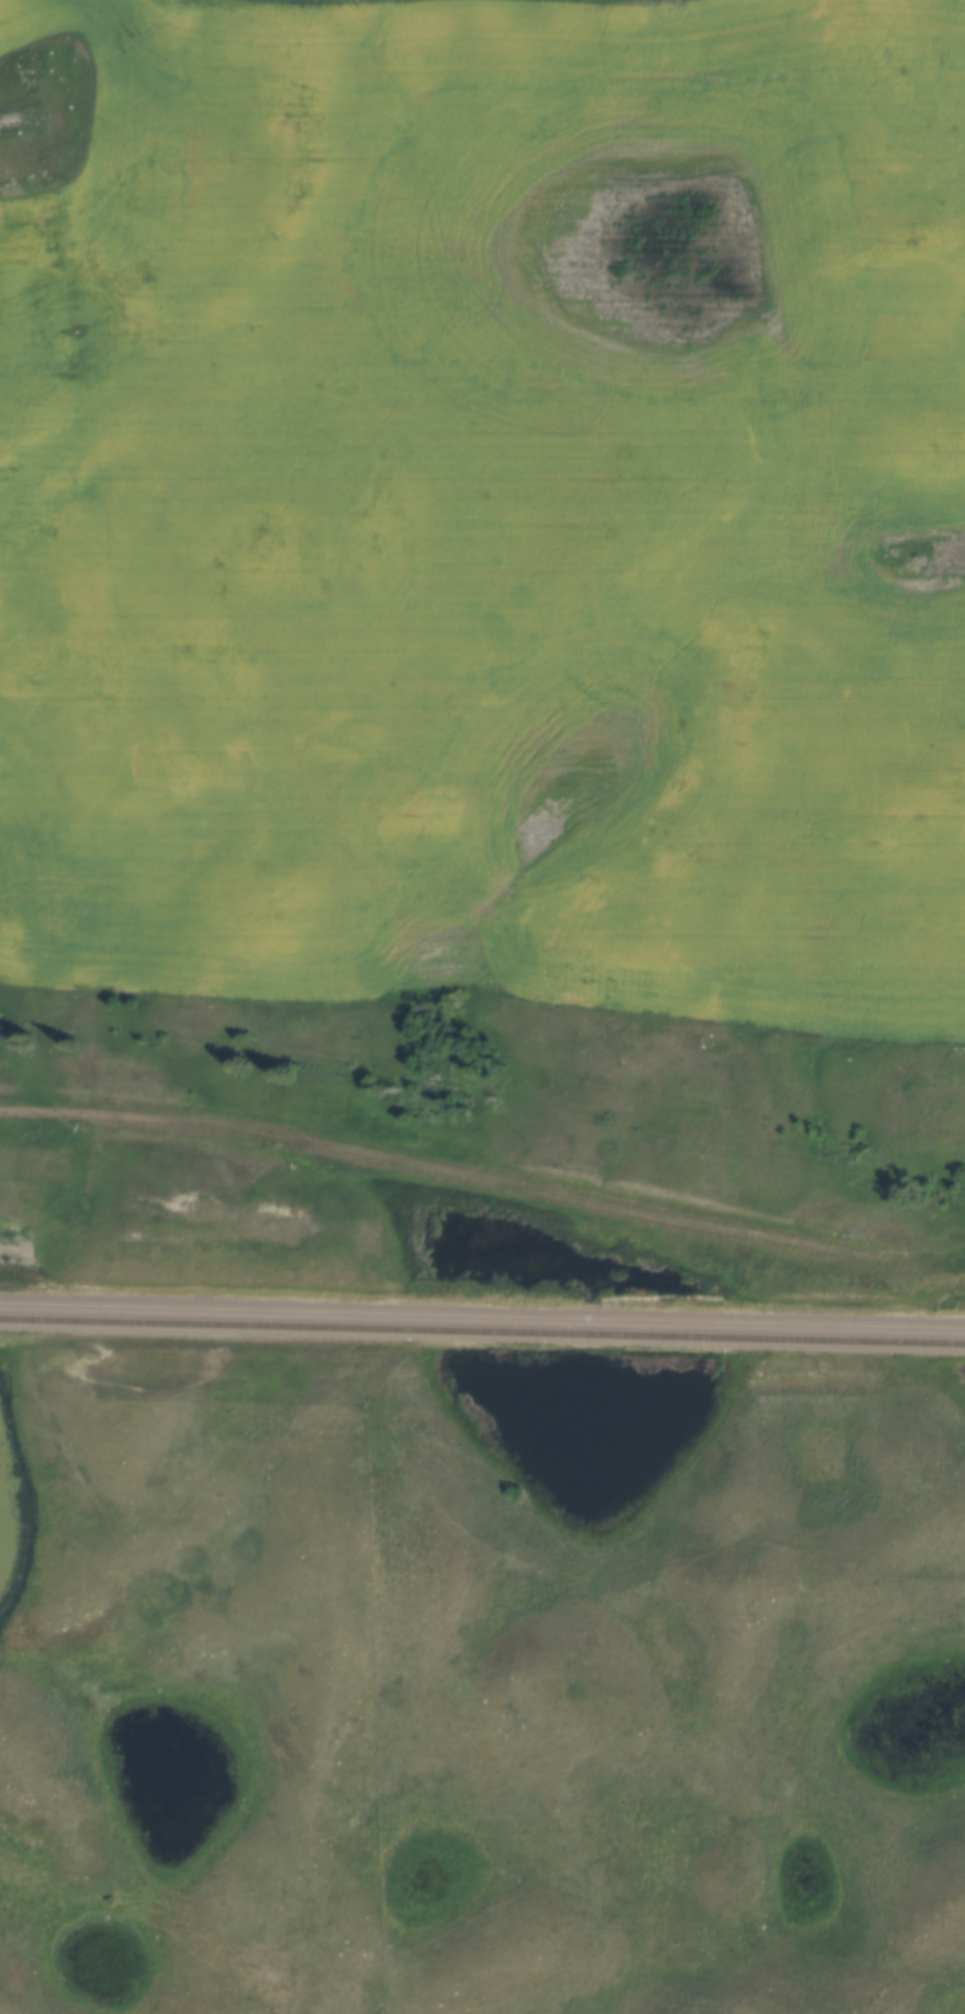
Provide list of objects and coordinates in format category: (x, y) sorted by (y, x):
railway: (482, 1309)
railway: (482, 1332)

